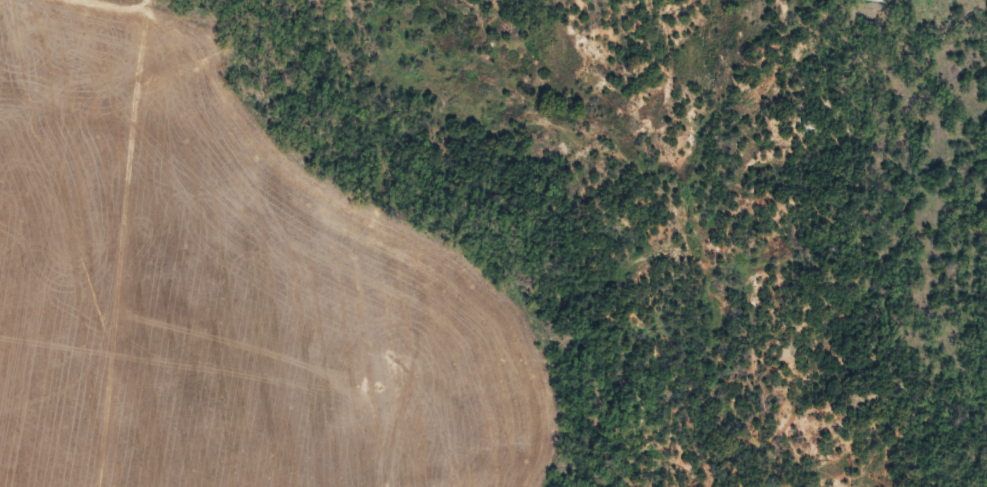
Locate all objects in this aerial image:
building: (877, 0)
road: (361, 203)

